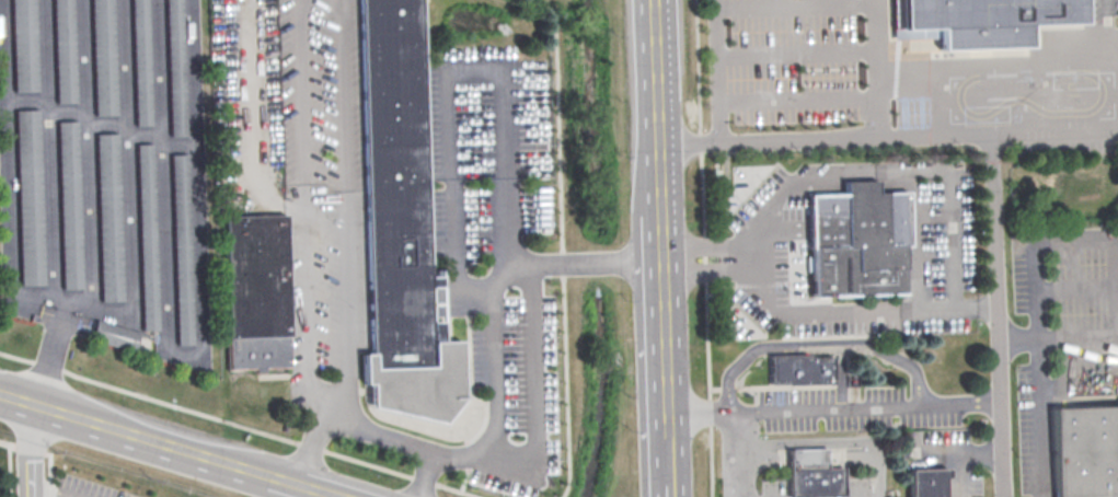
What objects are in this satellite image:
road: (794, 4)
building: (983, 20)
road: (1109, 30)
road: (875, 32)
building: (23, 45)
building: (62, 50)
road: (795, 54)
building: (102, 57)
building: (139, 62)
road: (996, 66)
building: (174, 67)
road: (447, 74)
road: (796, 99)
road: (937, 103)
road: (247, 123)
road: (932, 137)
road: (763, 140)
road: (11, 172)
road: (131, 193)
building: (28, 196)
building: (68, 204)
road: (954, 206)
road: (932, 215)
building: (107, 217)
road: (658, 220)
building: (400, 223)
building: (146, 236)
road: (740, 239)
road: (1093, 241)
building: (851, 245)
road: (696, 247)
building: (180, 248)
road: (703, 248)
road: (995, 253)
road: (1117, 268)
road: (696, 274)
road: (1074, 288)
building: (253, 292)
road: (494, 328)
road: (1117, 330)
building: (113, 335)
road: (815, 347)
road: (53, 355)
building: (798, 371)
road: (329, 395)
road: (535, 397)
road: (961, 404)
road: (319, 407)
road: (827, 411)
road: (1038, 418)
road: (234, 426)
road: (344, 428)
road: (134, 436)
road: (811, 442)
road: (27, 450)
road: (28, 451)
road: (964, 451)
building: (1085, 452)
road: (667, 461)
road: (730, 472)
building: (810, 474)
road: (959, 474)
road: (283, 481)
building: (926, 484)
road: (669, 489)
road: (296, 490)
road: (318, 490)
road: (45, 492)

